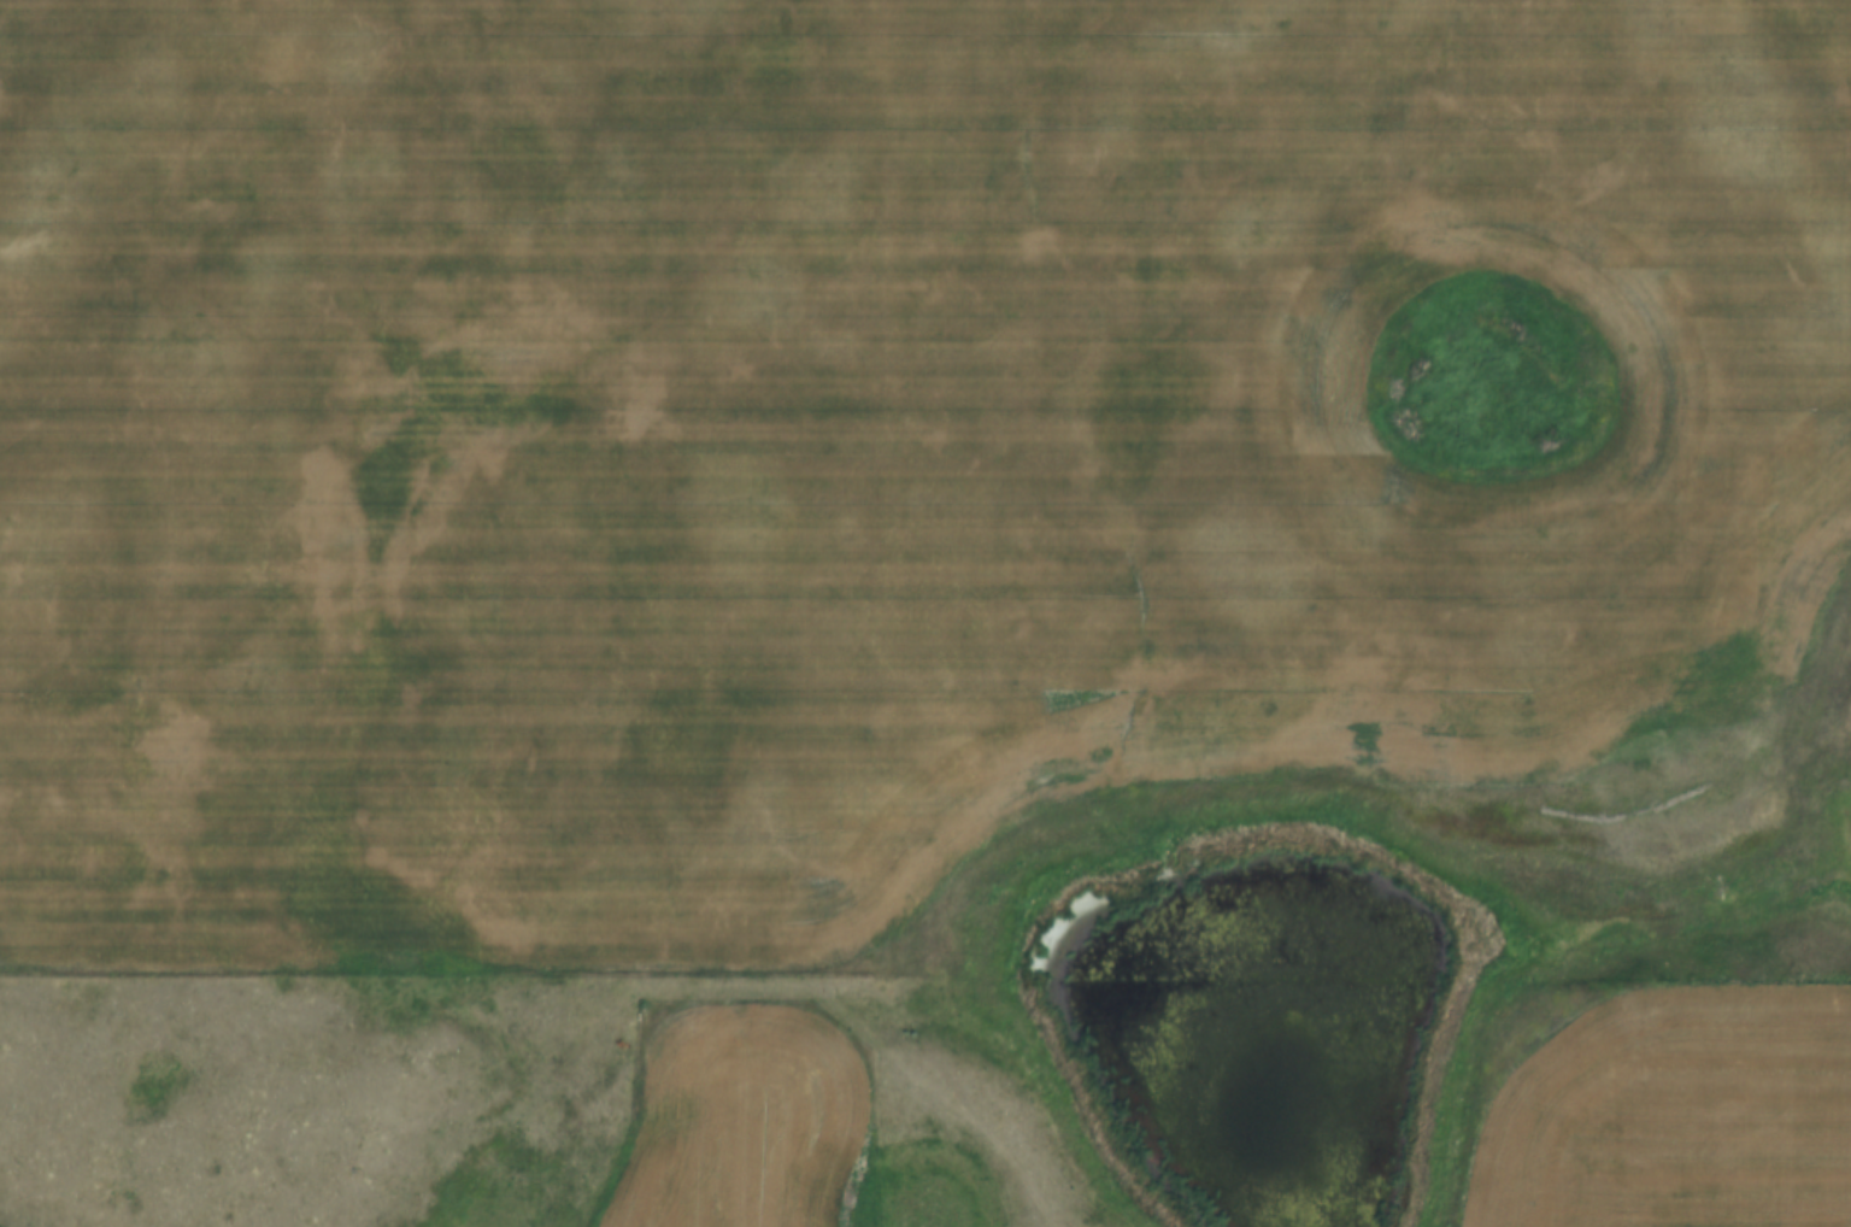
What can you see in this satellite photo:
road: (693, 987)

